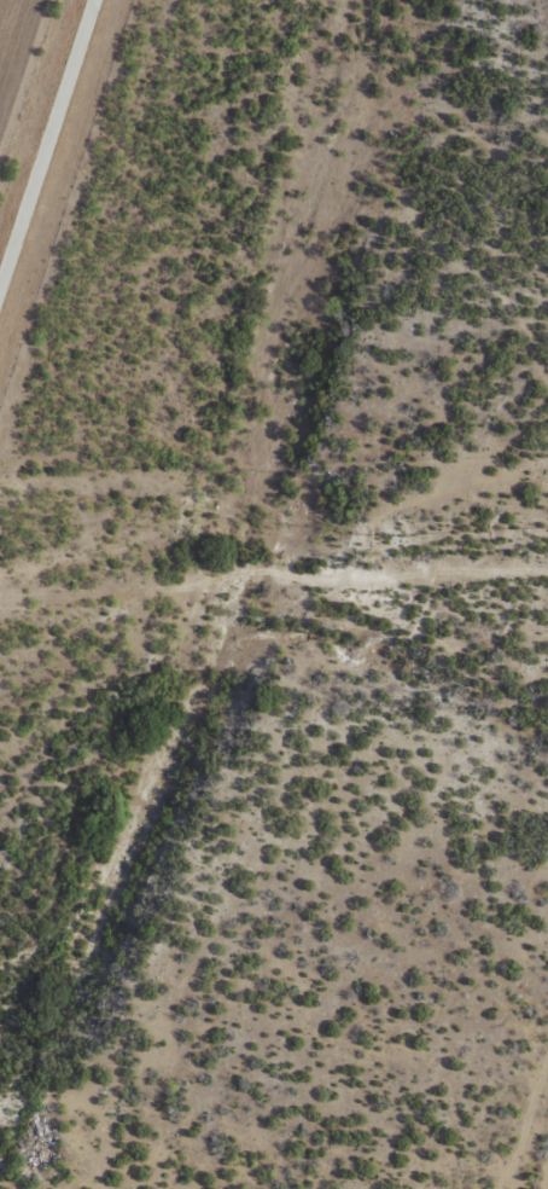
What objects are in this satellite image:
road: (51, 174)
river: (251, 517)

